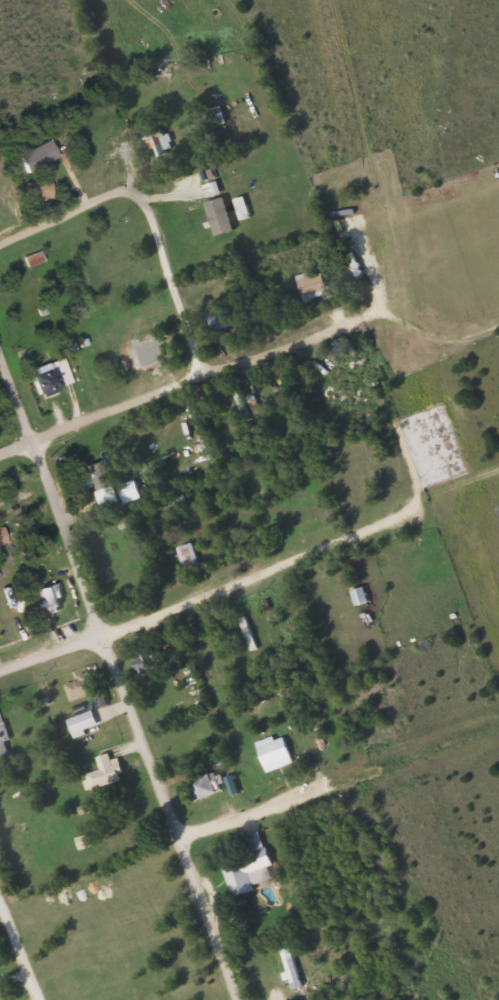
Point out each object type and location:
building: (127, 120)
building: (156, 142)
building: (33, 147)
building: (33, 191)
road: (64, 210)
building: (28, 250)
building: (350, 255)
road: (174, 274)
building: (307, 279)
building: (218, 313)
building: (344, 365)
building: (41, 373)
road: (175, 384)
building: (344, 403)
building: (108, 481)
building: (1, 534)
building: (185, 548)
building: (46, 563)
road: (249, 574)
building: (356, 589)
building: (44, 596)
building: (245, 632)
building: (145, 653)
road: (120, 667)
building: (80, 678)
building: (76, 714)
building: (3, 743)
building: (269, 745)
building: (101, 766)
building: (210, 779)
building: (82, 799)
building: (80, 834)
building: (245, 862)
road: (17, 952)
building: (286, 963)
building: (157, 999)

